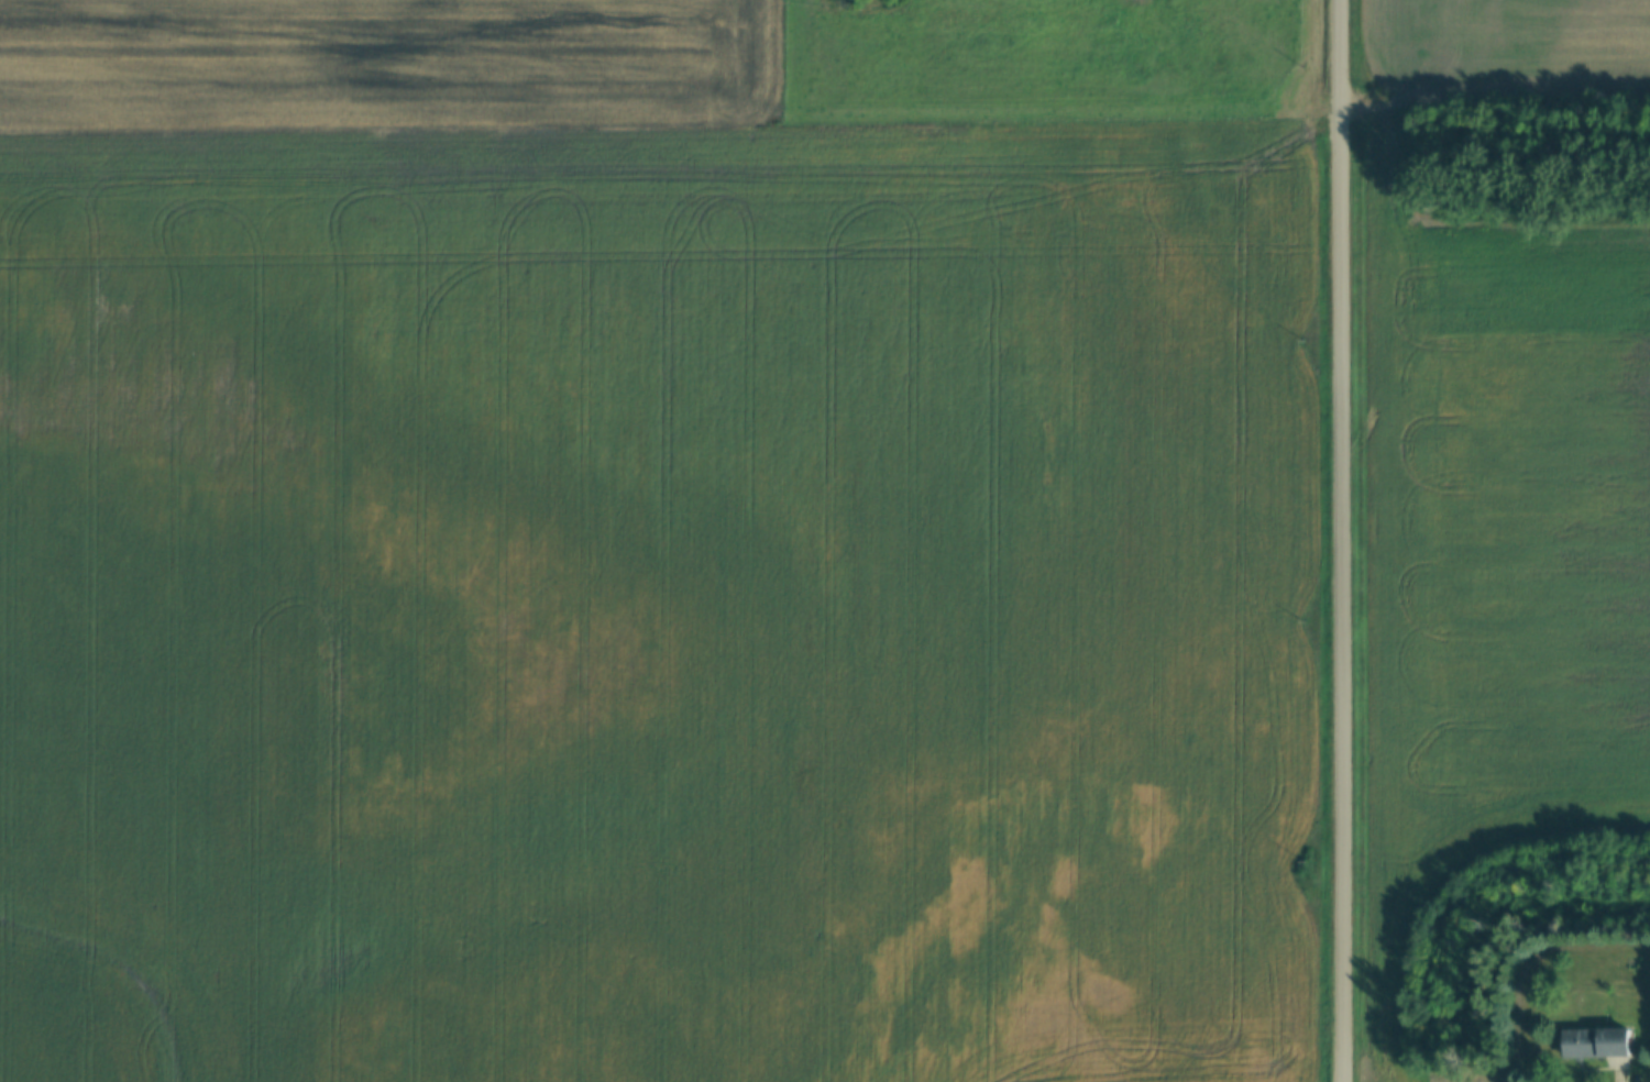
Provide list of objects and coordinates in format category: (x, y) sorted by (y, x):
road: (1345, 541)
building: (1592, 1044)

